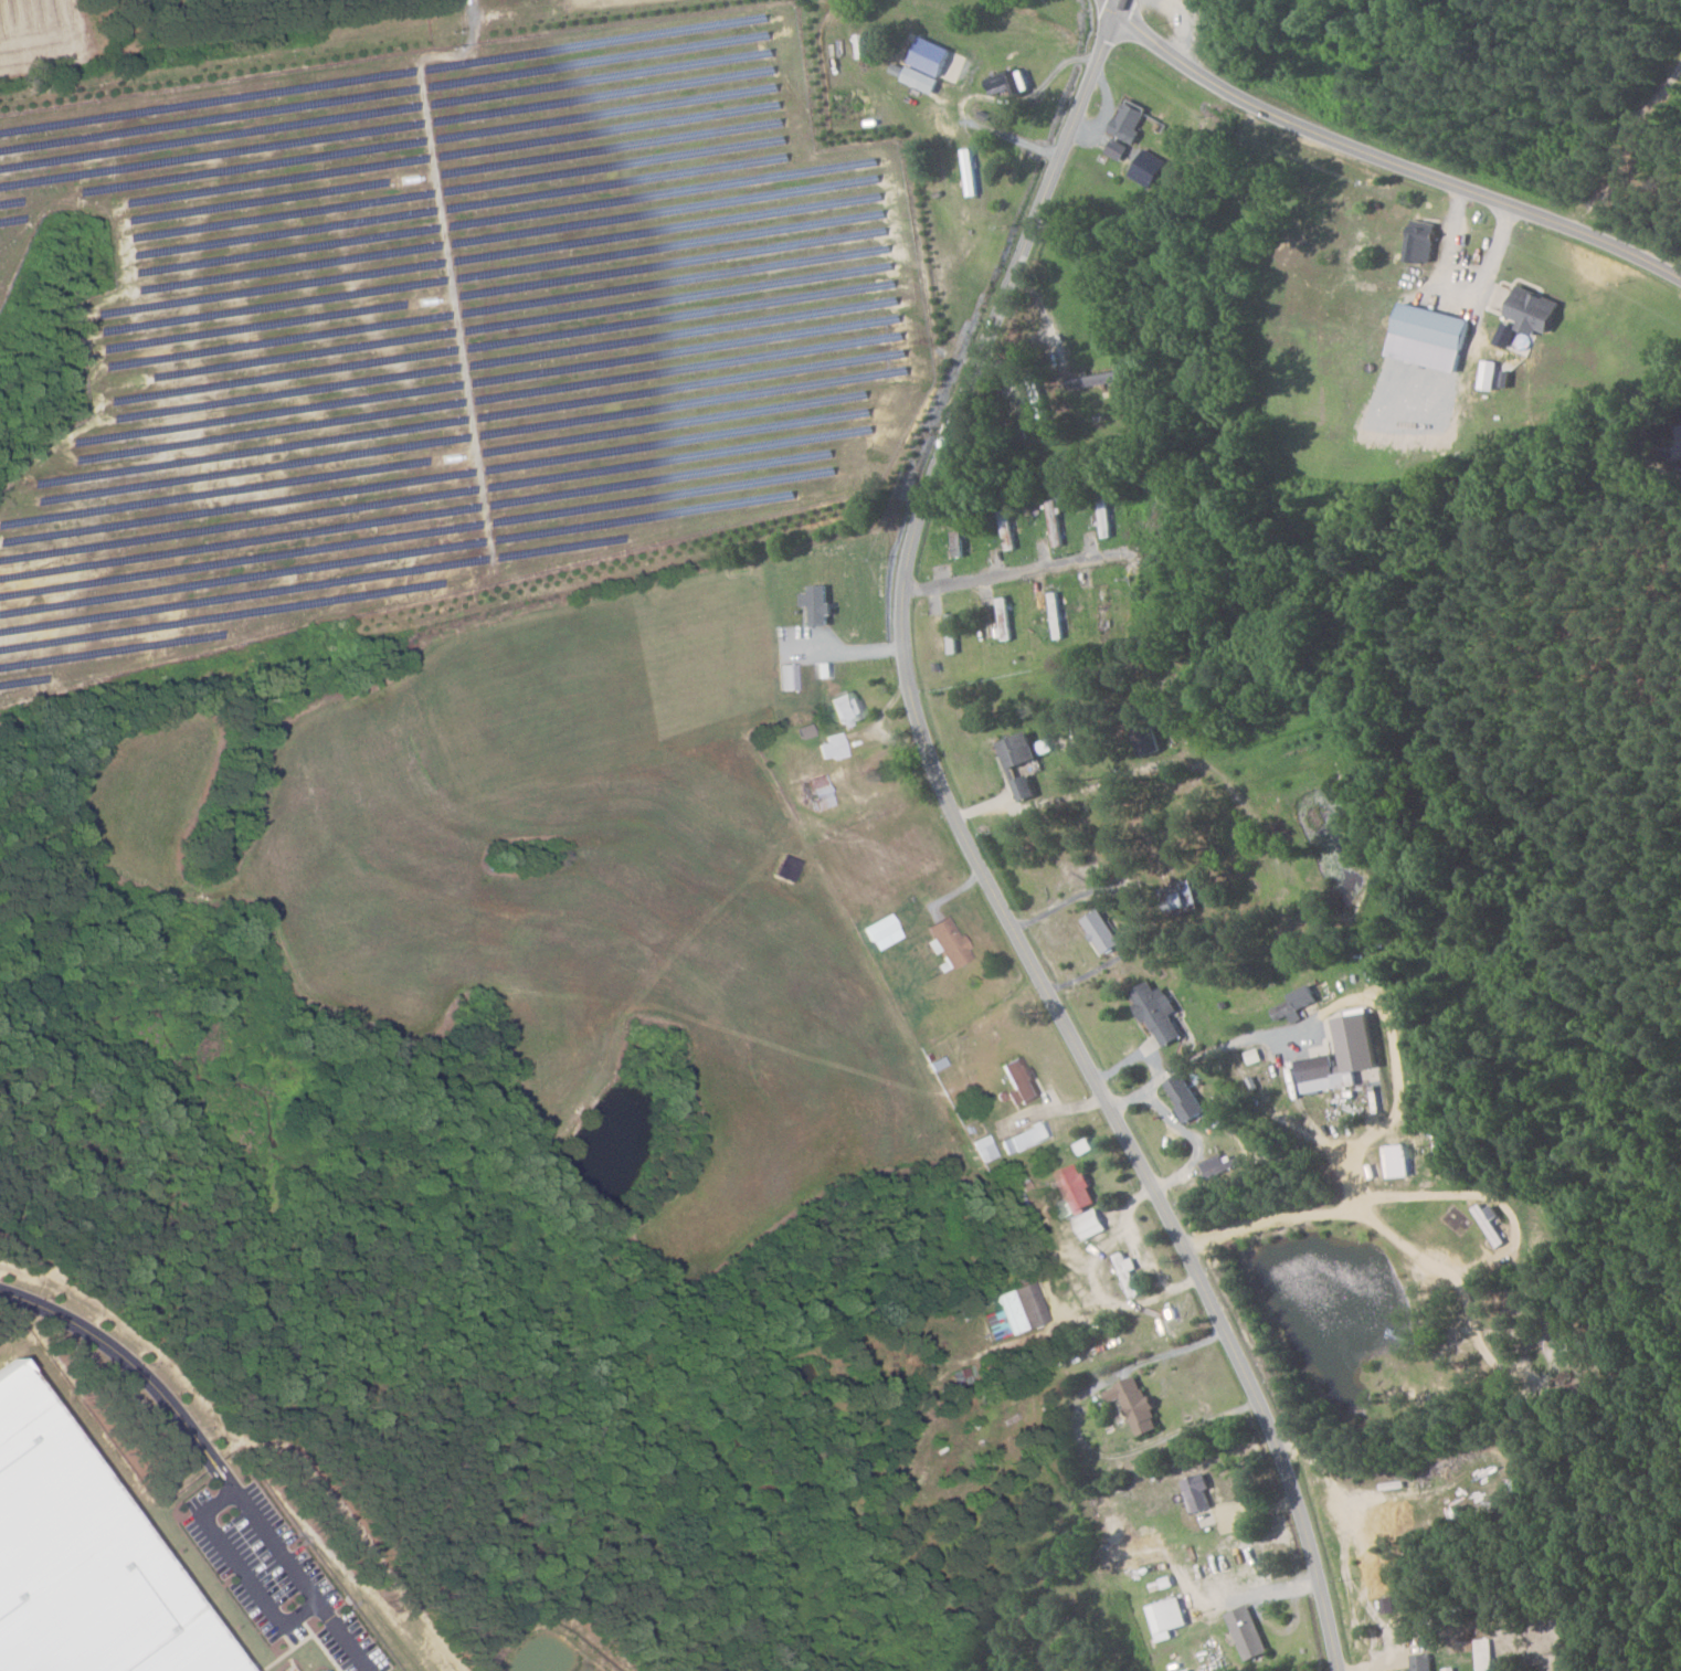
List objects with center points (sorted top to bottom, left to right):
building: (930, 55)
building: (913, 76)
building: (1006, 82)
building: (1128, 120)
building: (1116, 148)
road: (1384, 157)
building: (1148, 168)
building: (1421, 241)
building: (1533, 310)
road: (1036, 325)
solar farm: (430, 336)
building: (1429, 337)
building: (1489, 374)
building: (1054, 521)
road: (1017, 571)
building: (817, 604)
building: (786, 676)
building: (845, 708)
building: (804, 730)
building: (832, 747)
building: (1018, 763)
building: (820, 792)
road: (972, 849)
building: (1182, 895)
building: (1101, 932)
building: (1297, 1002)
building: (1157, 1013)
road: (1131, 1056)
road: (1191, 1060)
building: (1018, 1081)
building: (1184, 1098)
road: (1300, 1107)
road: (1371, 1134)
building: (1024, 1136)
road: (1193, 1139)
building: (984, 1148)
building: (1077, 1188)
building: (1065, 1208)
building: (1089, 1224)
road: (1512, 1241)
building: (1015, 1311)
road: (1473, 1323)
building: (1135, 1405)
road: (1077, 1432)
road: (205, 1452)
building: (1197, 1491)
building: (80, 1562)
building: (1166, 1617)
building: (1247, 1631)
building: (1421, 1661)
building: (318, 1669)

